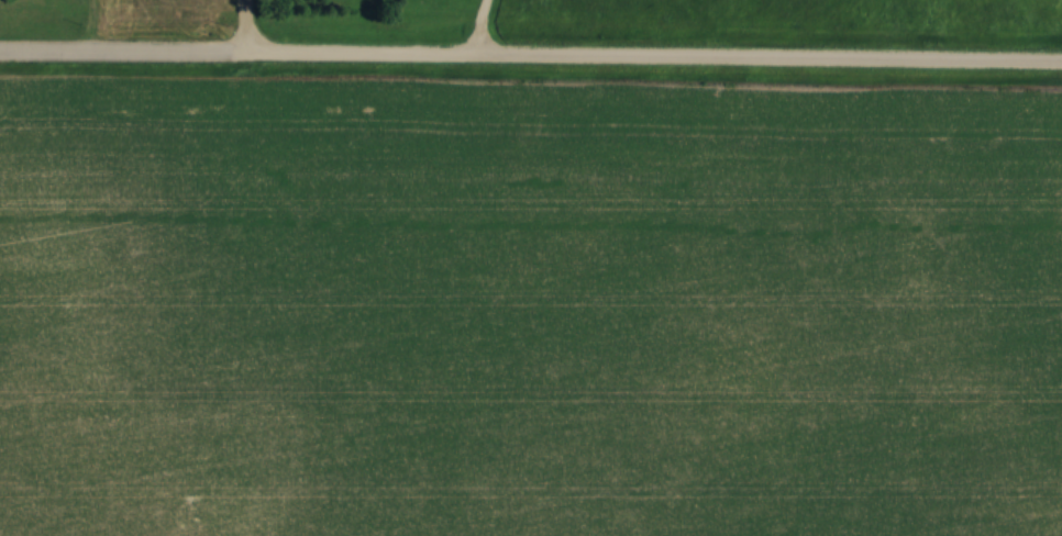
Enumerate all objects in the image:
road: (245, 26)
road: (530, 55)

